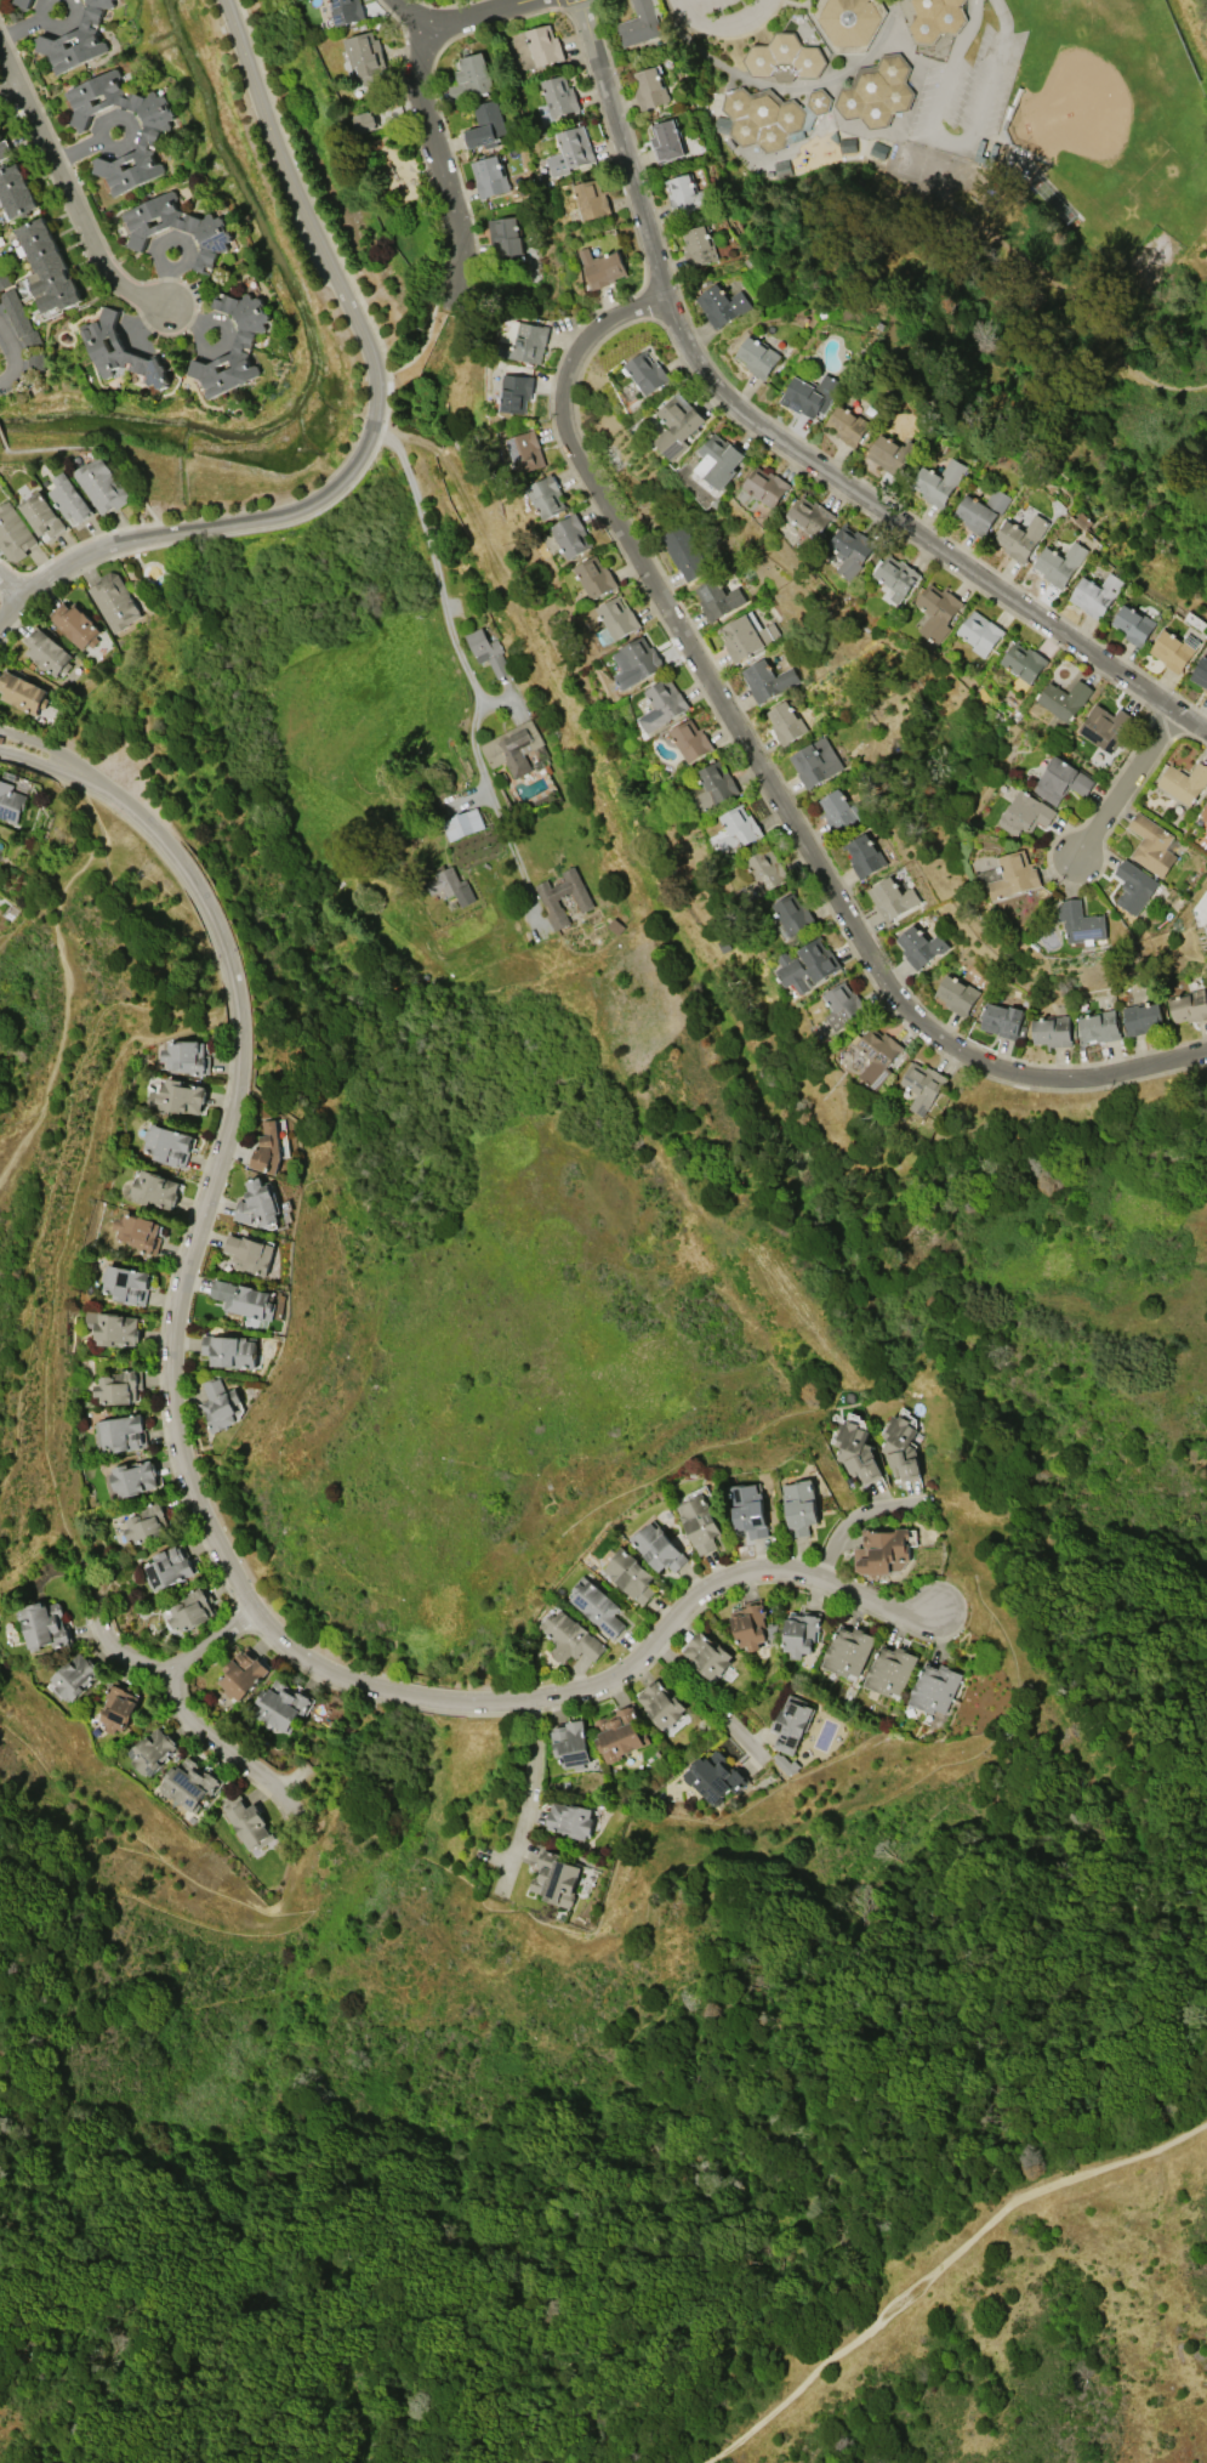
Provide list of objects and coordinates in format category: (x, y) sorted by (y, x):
building: (22, 2)
building: (346, 11)
road: (412, 16)
road: (479, 16)
building: (936, 18)
building: (848, 22)
building: (640, 23)
road: (721, 24)
building: (75, 41)
building: (543, 45)
building: (364, 58)
building: (784, 58)
road: (11, 63)
road: (917, 63)
road: (995, 66)
building: (469, 79)
road: (824, 84)
road: (11, 87)
building: (650, 87)
road: (945, 87)
building: (877, 91)
building: (559, 96)
building: (818, 102)
park: (1069, 113)
building: (762, 118)
building: (365, 121)
building: (485, 125)
building: (148, 141)
building: (666, 141)
building: (4, 151)
building: (571, 152)
road: (440, 165)
building: (489, 176)
building: (15, 192)
building: (687, 195)
building: (590, 200)
road: (74, 214)
building: (211, 232)
building: (505, 237)
building: (698, 246)
building: (46, 267)
building: (602, 267)
building: (4, 278)
building: (721, 303)
building: (19, 319)
building: (244, 342)
building: (528, 344)
building: (119, 351)
building: (757, 356)
road: (8, 363)
building: (645, 373)
building: (517, 392)
building: (809, 395)
road: (374, 420)
building: (847, 424)
building: (676, 425)
road: (788, 443)
building: (528, 452)
building: (889, 454)
building: (718, 460)
building: (936, 481)
building: (102, 484)
building: (765, 487)
building: (546, 496)
building: (70, 498)
building: (980, 510)
building: (42, 515)
building: (809, 516)
building: (13, 533)
building: (570, 537)
building: (1019, 537)
building: (849, 550)
building: (681, 551)
building: (1059, 563)
building: (594, 578)
building: (895, 578)
road: (10, 586)
building: (1095, 594)
building: (716, 597)
building: (113, 601)
building: (936, 612)
road: (446, 613)
building: (616, 619)
building: (1132, 624)
building: (76, 625)
building: (979, 632)
building: (745, 636)
building: (1173, 649)
building: (47, 652)
building: (486, 652)
building: (1023, 662)
building: (636, 663)
building: (1200, 672)
building: (765, 680)
building: (22, 693)
building: (1063, 699)
building: (661, 704)
building: (785, 722)
building: (1104, 727)
building: (690, 739)
road: (36, 742)
building: (513, 748)
road: (34, 760)
building: (815, 761)
building: (1061, 781)
building: (1183, 782)
road: (1128, 784)
building: (711, 787)
road: (774, 790)
building: (10, 801)
building: (838, 810)
building: (1203, 812)
building: (1025, 813)
building: (462, 824)
building: (738, 829)
building: (1151, 845)
building: (862, 855)
road: (518, 864)
building: (765, 869)
building: (1013, 875)
building: (450, 885)
building: (1133, 887)
building: (563, 897)
building: (892, 897)
building: (791, 915)
building: (1081, 923)
building: (920, 946)
road: (63, 965)
building: (805, 965)
building: (956, 994)
building: (842, 1006)
building: (1189, 1006)
building: (1141, 1017)
building: (1001, 1020)
building: (1099, 1026)
building: (1051, 1031)
building: (184, 1056)
building: (876, 1056)
building: (922, 1086)
building: (181, 1097)
building: (166, 1143)
building: (267, 1150)
building: (155, 1190)
building: (258, 1203)
building: (138, 1232)
building: (249, 1253)
building: (125, 1284)
building: (243, 1299)
building: (112, 1327)
building: (229, 1351)
building: (118, 1387)
building: (218, 1404)
building: (120, 1434)
building: (900, 1448)
building: (855, 1452)
building: (133, 1479)
building: (799, 1506)
building: (748, 1509)
road: (852, 1516)
building: (147, 1522)
building: (700, 1522)
road: (211, 1534)
building: (659, 1548)
building: (882, 1551)
building: (169, 1566)
building: (631, 1576)
building: (597, 1607)
building: (192, 1608)
building: (44, 1625)
building: (750, 1625)
building: (799, 1634)
building: (571, 1638)
building: (849, 1651)
building: (707, 1655)
road: (173, 1663)
building: (890, 1670)
building: (241, 1674)
building: (74, 1675)
building: (934, 1687)
building: (661, 1704)
road: (711, 1704)
building: (280, 1707)
building: (118, 1708)
building: (791, 1724)
building: (619, 1733)
building: (570, 1744)
road: (223, 1746)
building: (152, 1750)
building: (714, 1777)
building: (188, 1786)
road: (531, 1792)
building: (570, 1820)
building: (247, 1823)
building: (554, 1878)
road: (936, 2261)

